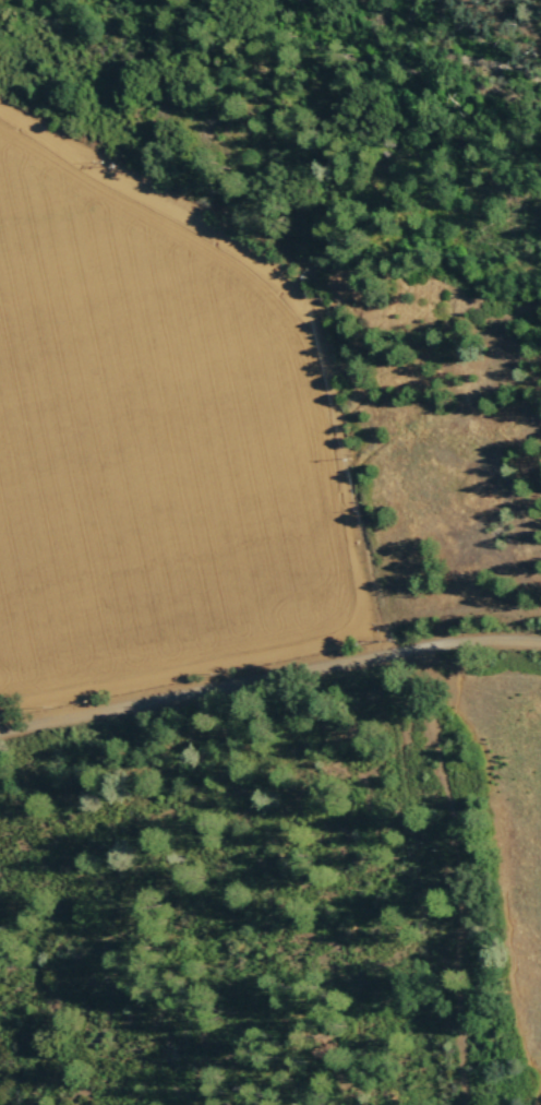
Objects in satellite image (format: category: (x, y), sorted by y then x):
road: (269, 675)
road: (454, 874)

